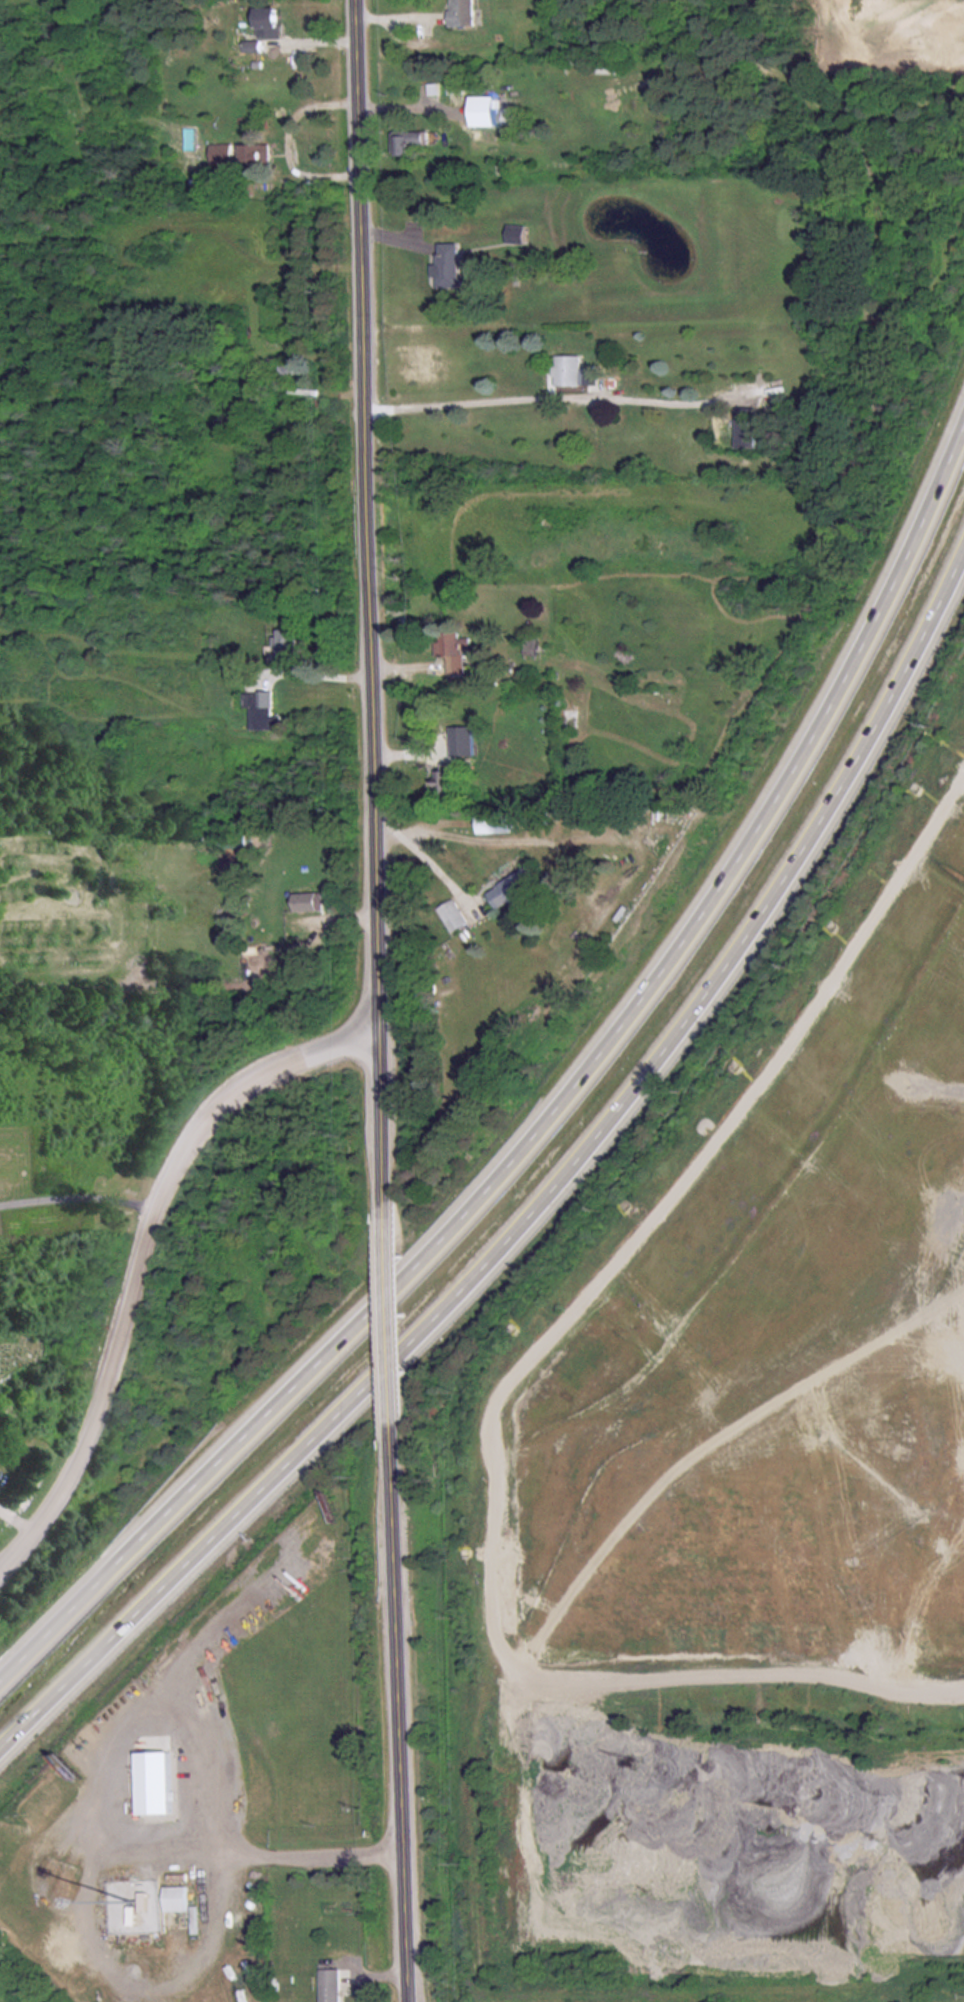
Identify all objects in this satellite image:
building: (462, 12)
building: (267, 22)
building: (454, 85)
building: (411, 140)
building: (253, 152)
building: (220, 153)
building: (448, 264)
building: (570, 369)
building: (293, 373)
road: (485, 393)
building: (728, 427)
road: (380, 604)
building: (449, 642)
building: (284, 645)
road: (308, 672)
building: (259, 709)
building: (445, 783)
building: (494, 822)
road: (425, 852)
building: (514, 886)
building: (309, 901)
building: (451, 915)
road: (553, 1119)
road: (86, 1191)
road: (540, 1196)
road: (149, 1261)
road: (399, 1319)
landfill: (736, 1502)
road: (411, 1715)
building: (149, 1783)
road: (221, 1854)
road: (346, 1854)
building: (175, 1897)
building: (330, 1984)

